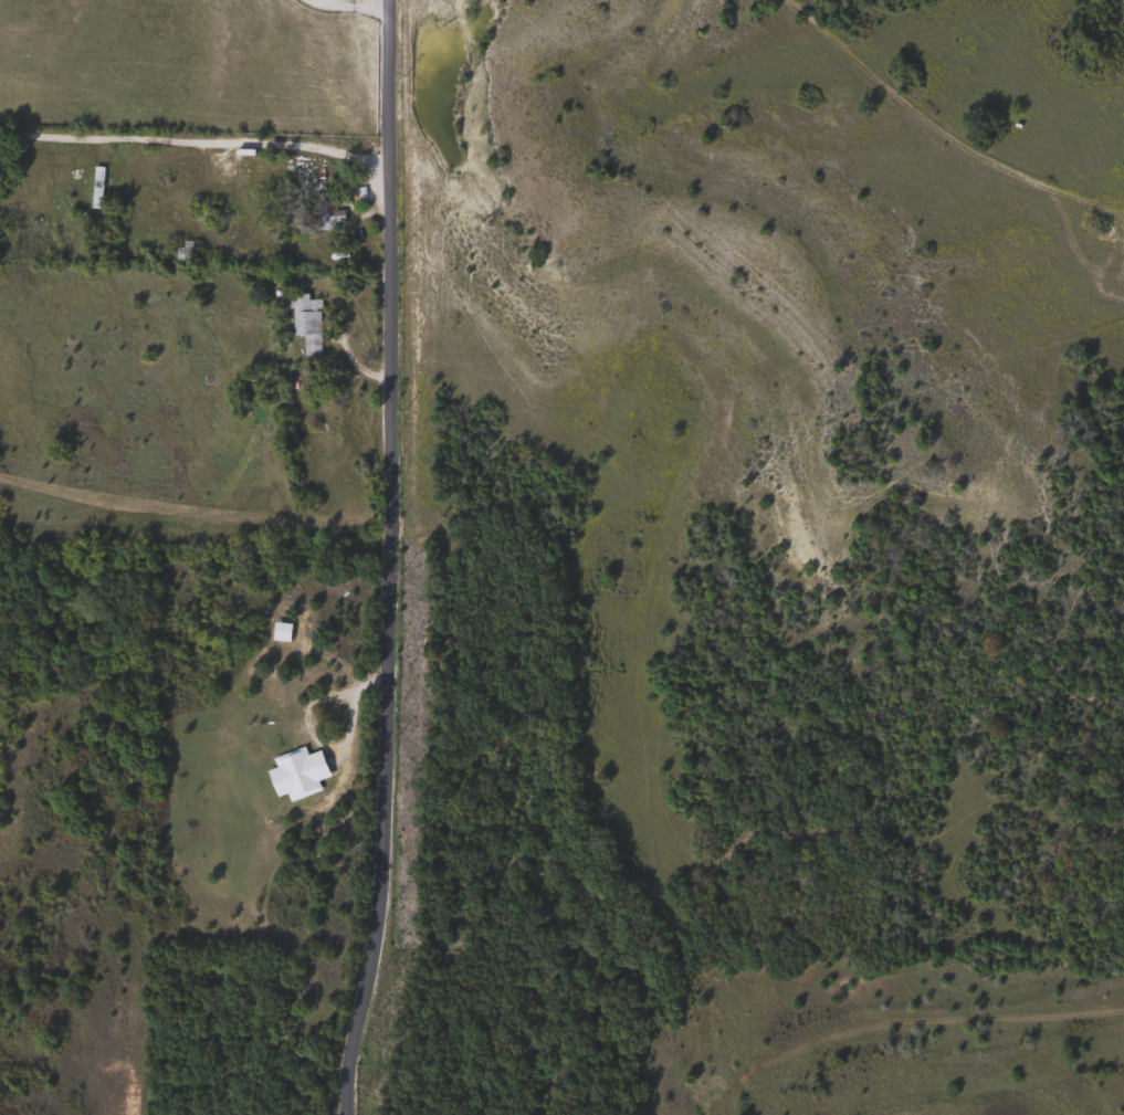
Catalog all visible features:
road: (346, 7)
road: (191, 134)
building: (92, 187)
building: (323, 213)
building: (302, 322)
road: (380, 559)
road: (305, 727)

